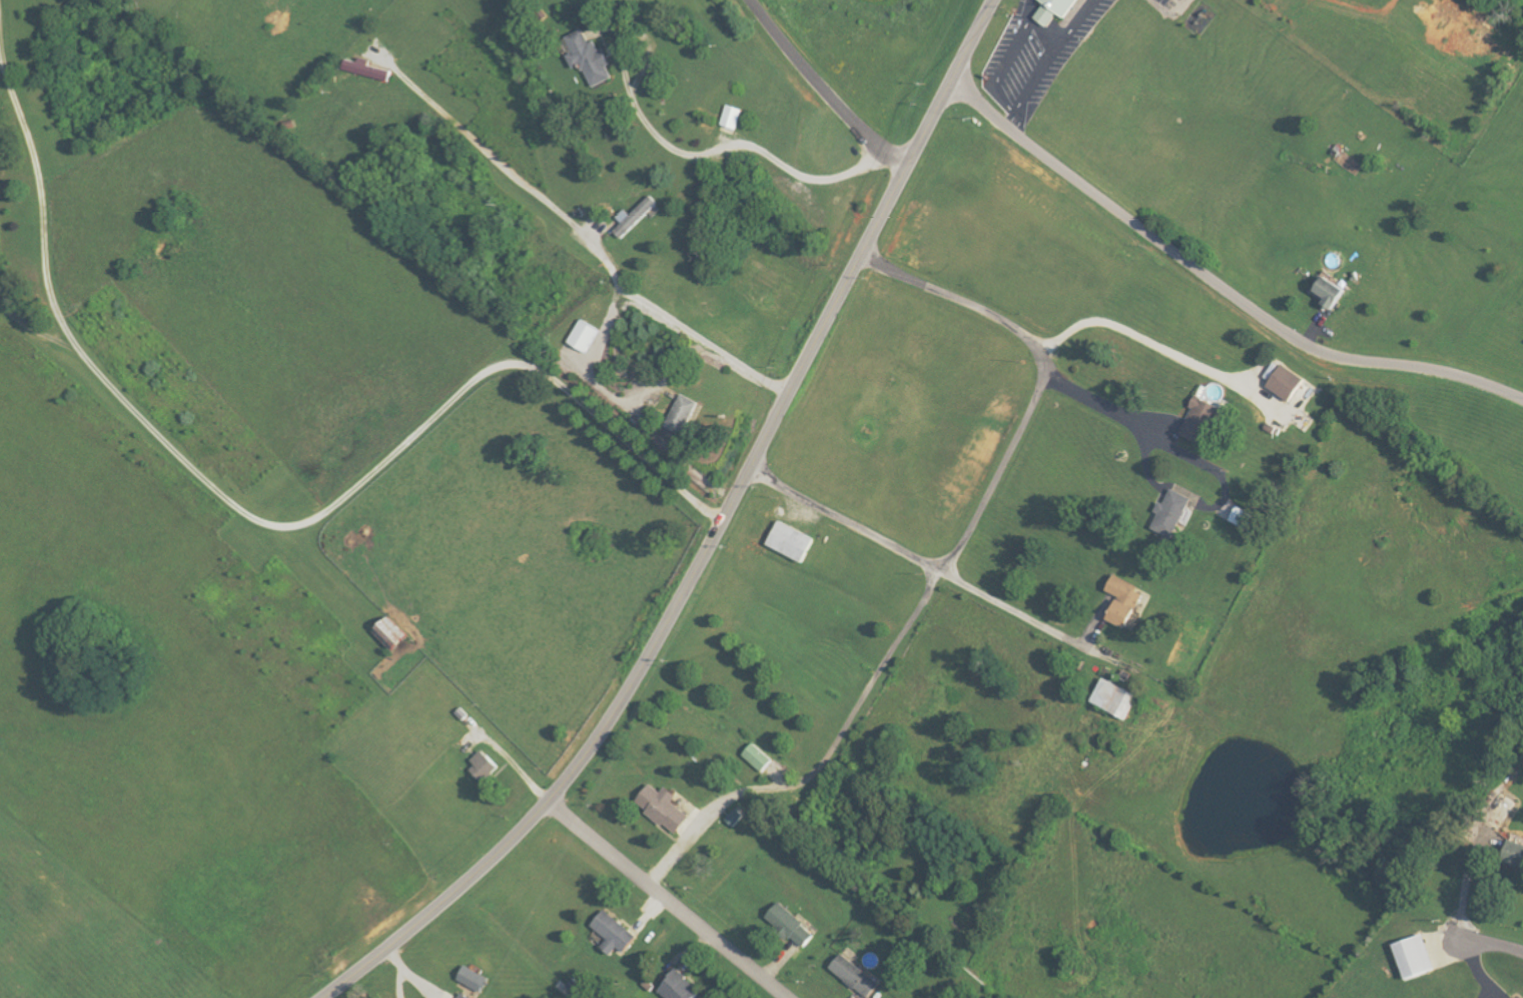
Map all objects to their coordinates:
building: (1059, 10)
road: (1033, 13)
road: (3, 37)
building: (591, 56)
road: (3, 62)
building: (368, 69)
road: (821, 91)
road: (1030, 101)
building: (734, 116)
road: (1015, 122)
road: (739, 150)
building: (637, 216)
road: (592, 242)
road: (1217, 285)
building: (1333, 292)
road: (971, 305)
building: (586, 335)
road: (1154, 343)
building: (1289, 383)
road: (1107, 405)
building: (1206, 413)
building: (685, 414)
road: (998, 478)
building: (1175, 513)
building: (1246, 518)
road: (847, 522)
road: (278, 523)
road: (715, 539)
building: (792, 541)
building: (1127, 601)
road: (1010, 607)
building: (394, 633)
building: (1118, 699)
building: (759, 758)
road: (827, 762)
road: (514, 764)
building: (486, 766)
building: (665, 808)
building: (1516, 853)
road: (666, 900)
building: (792, 925)
building: (616, 933)
road: (1501, 945)
building: (1416, 957)
building: (856, 976)
building: (476, 978)
building: (682, 987)
building: (465, 996)

